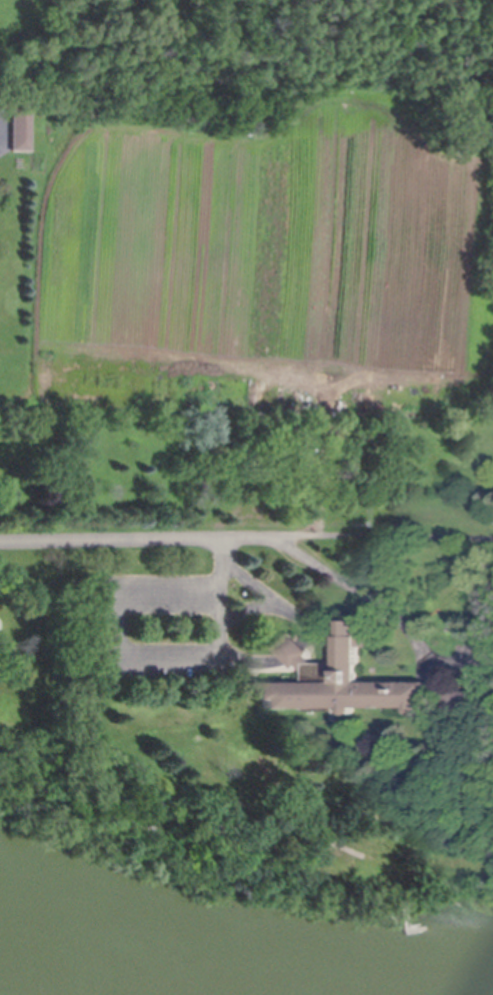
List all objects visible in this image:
building: (20, 129)
crop: (262, 239)
road: (138, 537)
road: (385, 537)
road: (169, 597)
road: (221, 598)
road: (250, 607)
road: (388, 610)
road: (116, 629)
road: (305, 629)
road: (168, 661)
building: (339, 679)
park: (31, 696)
building: (470, 704)
road: (294, 768)
road: (31, 820)
road: (276, 866)
pier: (405, 924)

